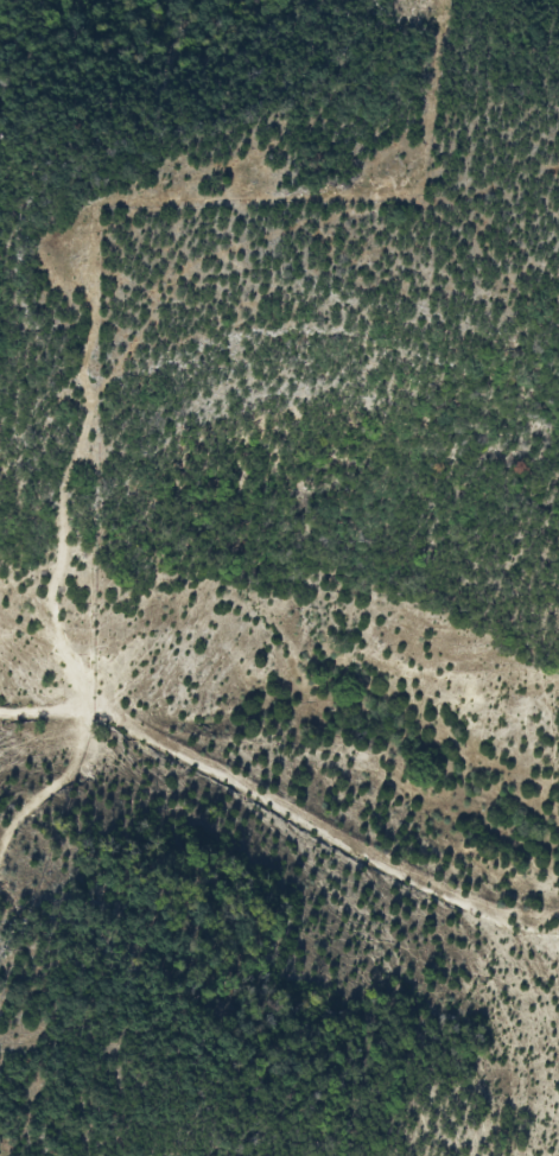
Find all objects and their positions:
road: (281, 815)

